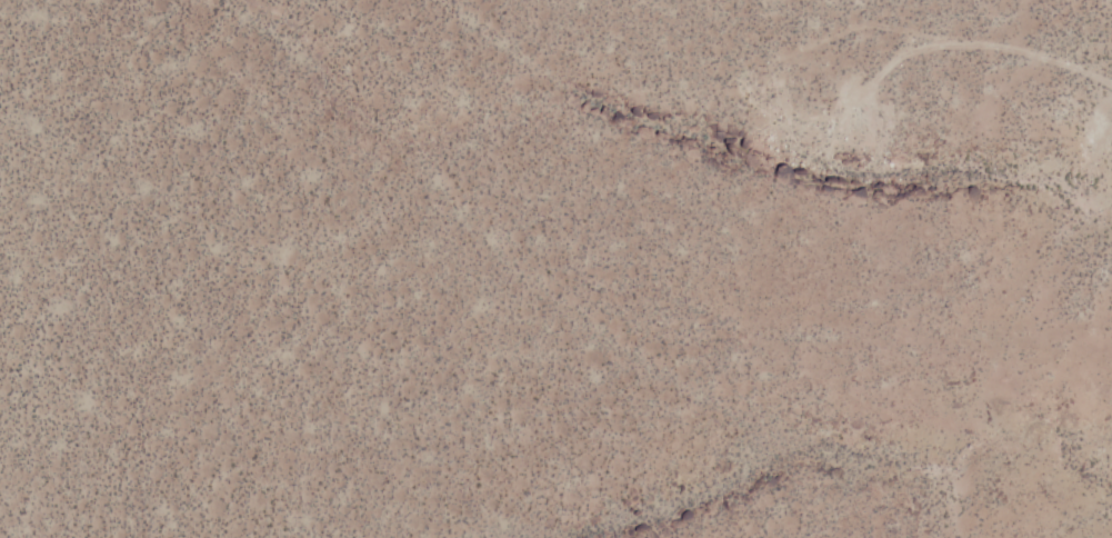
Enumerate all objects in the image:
road: (970, 59)

